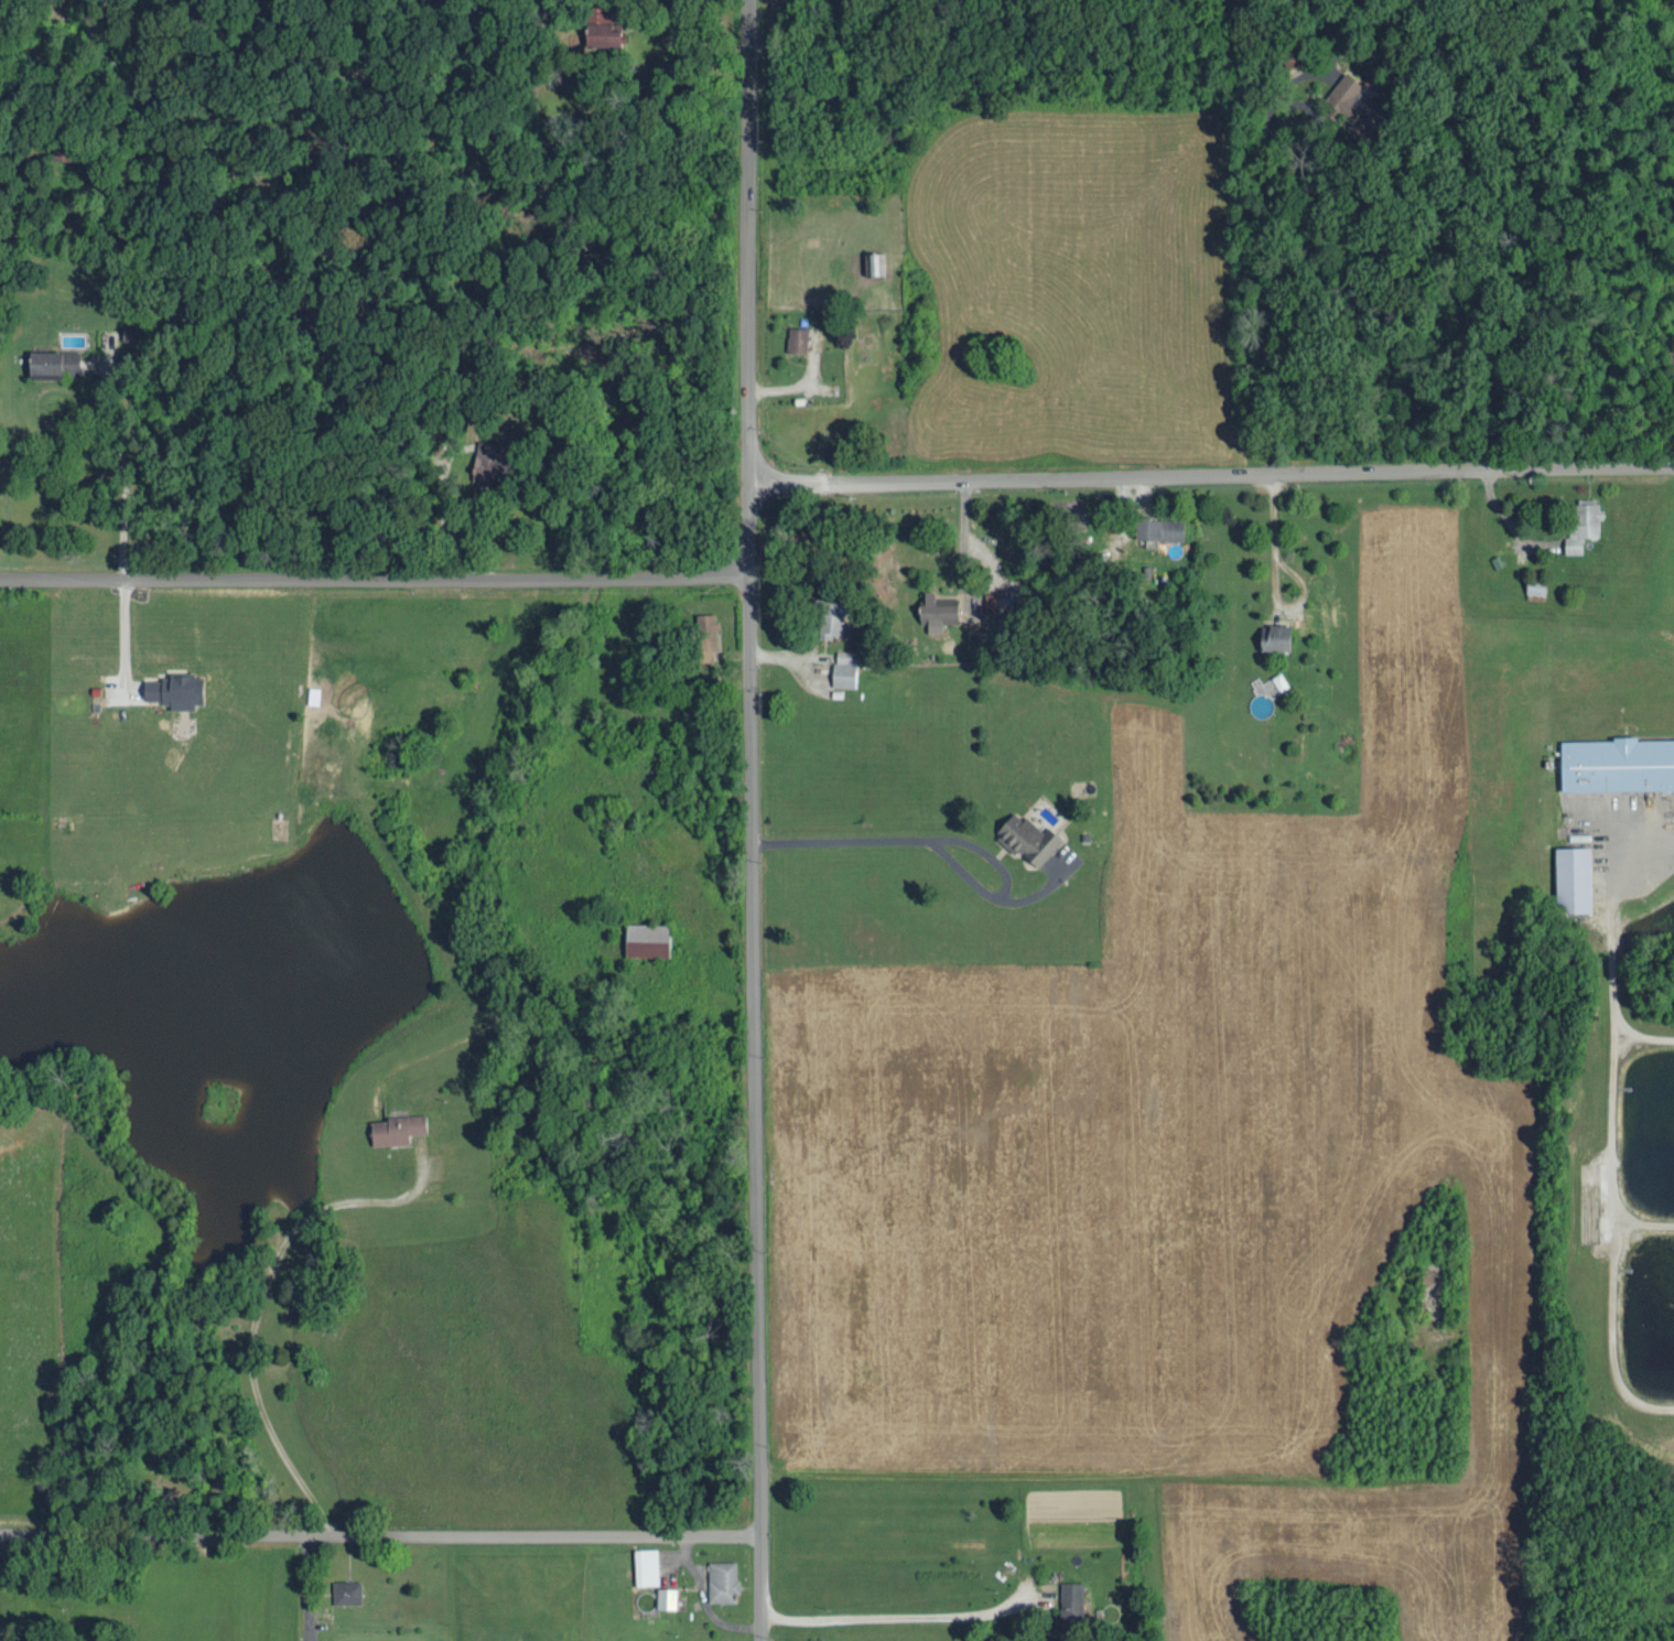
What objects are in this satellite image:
building: (603, 26)
building: (875, 262)
building: (797, 338)
building: (54, 363)
building: (494, 458)
road: (120, 473)
road: (1211, 475)
building: (1587, 517)
building: (1160, 528)
building: (1574, 543)
road: (375, 577)
building: (998, 602)
building: (938, 609)
building: (833, 616)
building: (708, 636)
building: (1278, 637)
building: (844, 667)
building: (1281, 680)
building: (176, 689)
building: (314, 694)
building: (1618, 762)
road: (753, 820)
building: (1029, 836)
building: (1575, 876)
dam: (397, 893)
building: (648, 937)
building: (398, 1126)
road: (267, 1292)
road: (380, 1532)
building: (646, 1564)
building: (723, 1579)
building: (346, 1590)
building: (667, 1596)
building: (1071, 1601)
building: (821, 1640)

